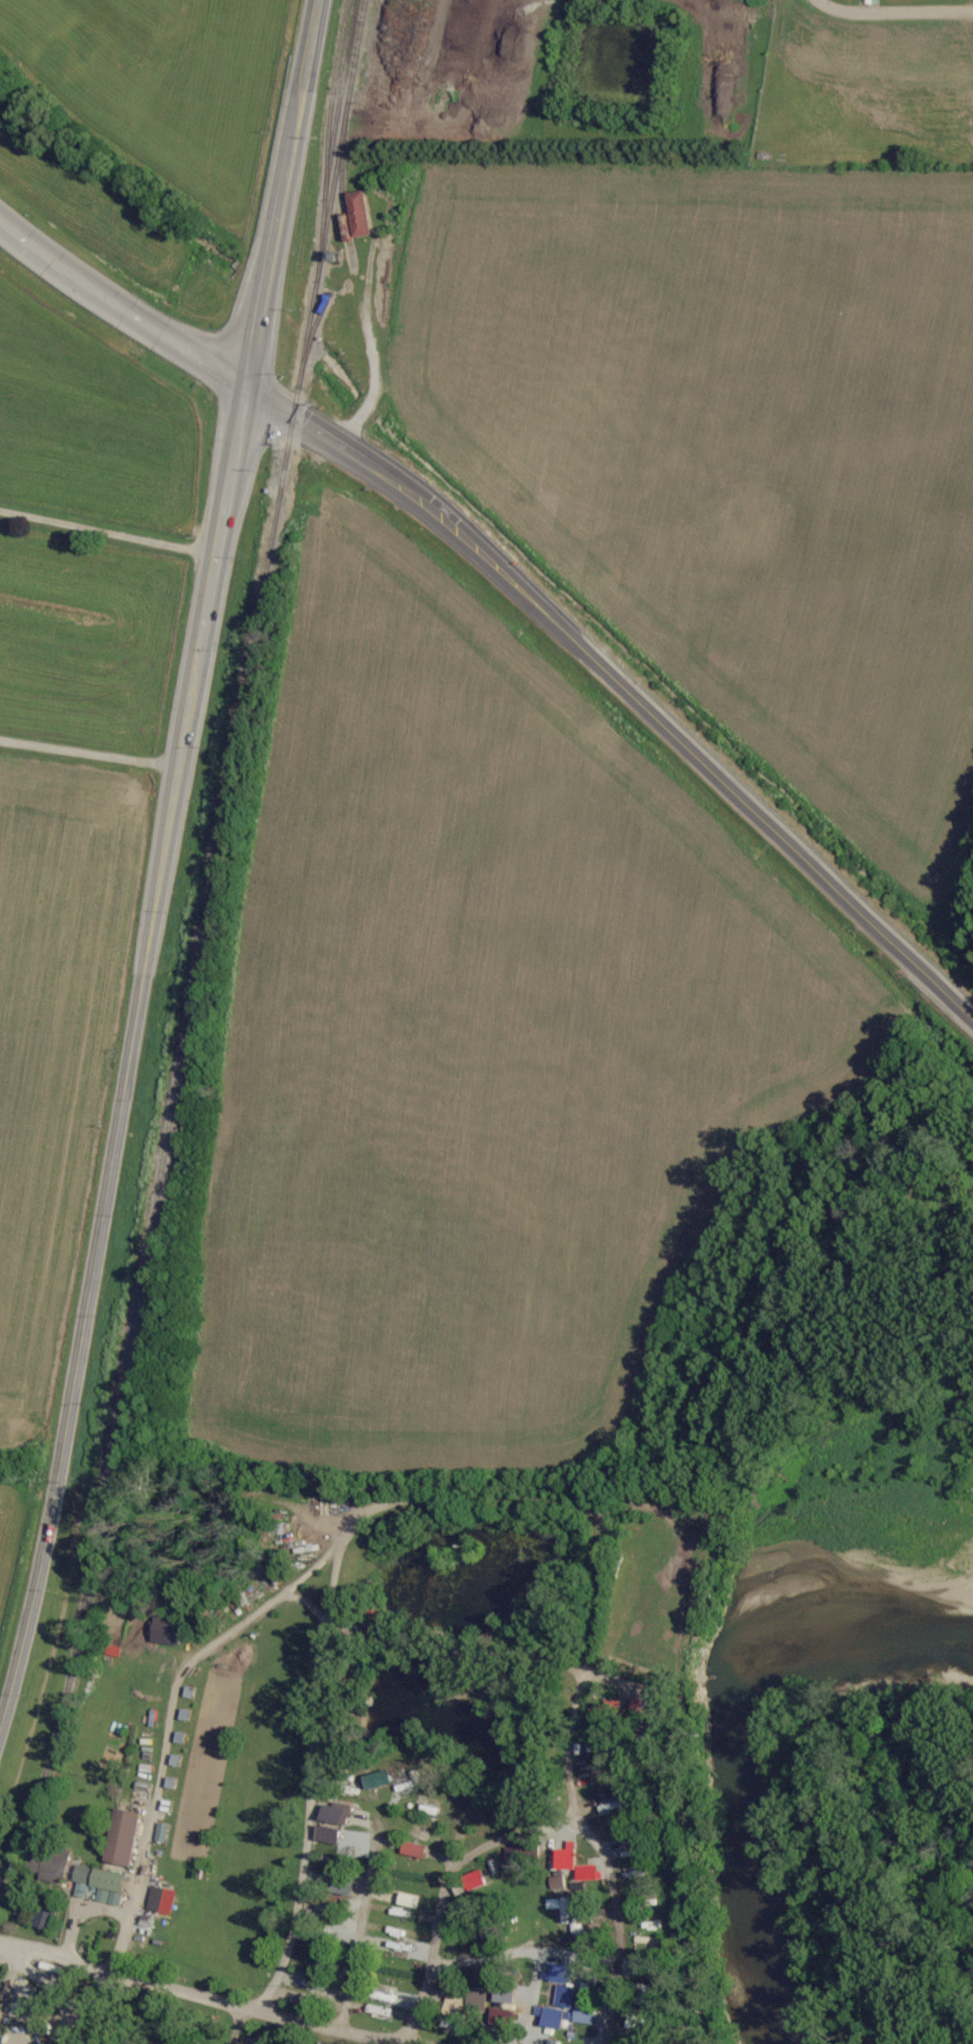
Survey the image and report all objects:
road: (894, 9)
power substation: (862, 83)
railway: (341, 101)
railway: (327, 141)
railway: (341, 185)
building: (359, 215)
road: (120, 308)
railway: (310, 340)
road: (107, 531)
road: (622, 683)
road: (88, 752)
road: (159, 864)
railway: (202, 942)
road: (364, 1512)
road: (308, 1605)
building: (166, 1632)
river: (730, 1700)
building: (635, 1706)
building: (608, 1709)
road: (314, 1765)
building: (602, 1774)
building: (379, 1778)
building: (332, 1821)
road: (535, 1833)
building: (123, 1836)
building: (414, 1849)
building: (514, 1856)
building: (566, 1856)
building: (49, 1864)
building: (588, 1871)
building: (469, 1882)
building: (162, 1899)
building: (409, 1900)
building: (44, 1913)
road: (81, 1914)
road: (523, 1951)
building: (640, 1966)
building: (562, 1984)
road: (52, 1990)
road: (198, 1998)
road: (534, 1998)
building: (456, 2005)
building: (585, 2015)
building: (551, 2016)
building: (498, 2017)
road: (64, 2022)

